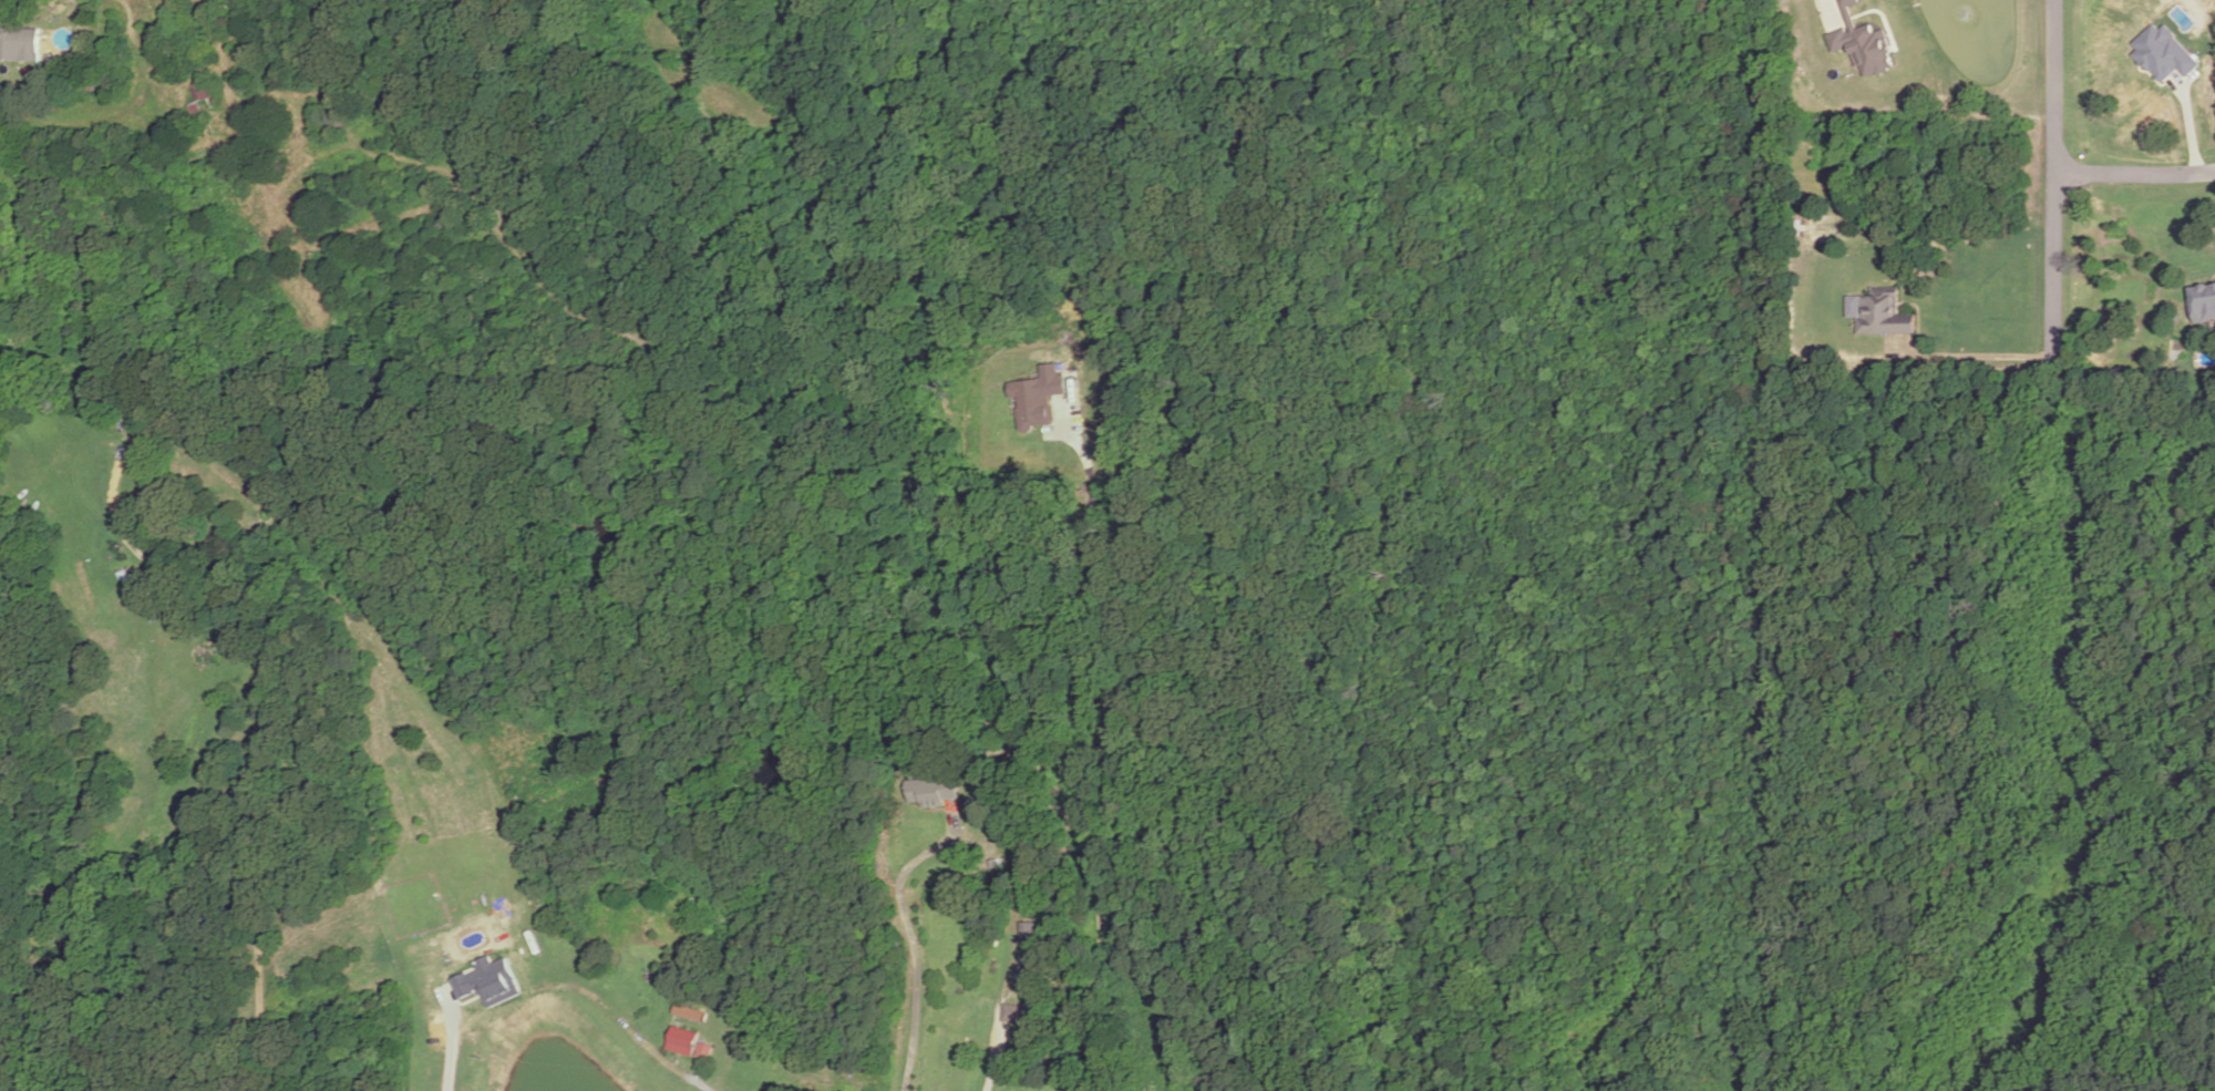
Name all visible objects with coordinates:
road: (1828, 9)
building: (1858, 38)
building: (24, 43)
building: (2163, 52)
building: (203, 90)
road: (2134, 174)
road: (2053, 182)
building: (2203, 302)
building: (1884, 315)
road: (1970, 357)
building: (1038, 397)
building: (121, 413)
road: (256, 732)
road: (1095, 754)
building: (931, 791)
building: (1029, 935)
road: (909, 936)
building: (491, 980)
road: (565, 987)
road: (999, 1001)
building: (690, 1011)
building: (1024, 1016)
building: (682, 1041)

